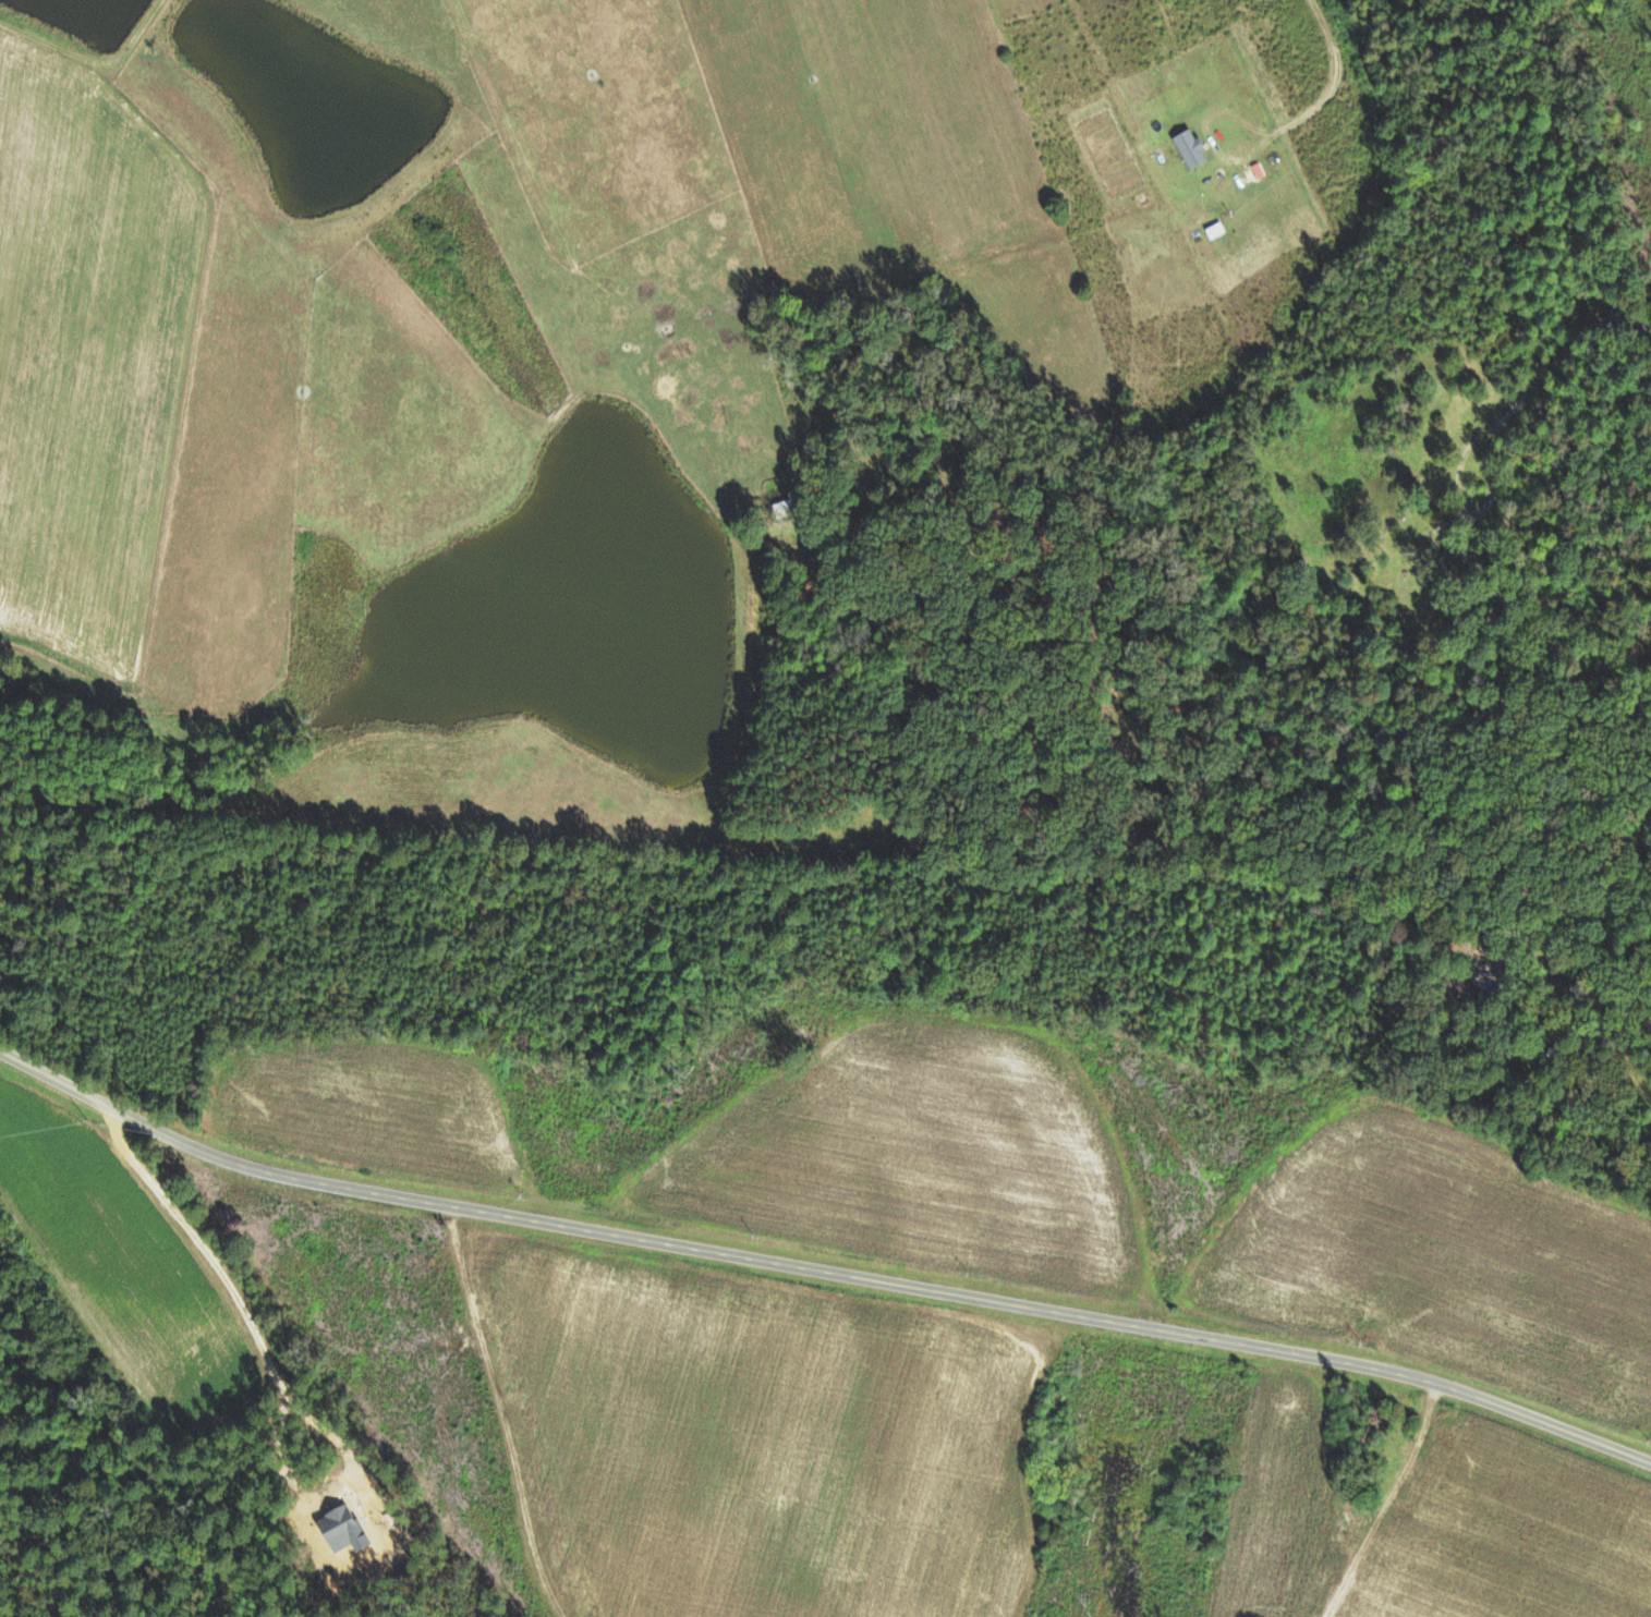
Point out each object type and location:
road: (1324, 101)
building: (1188, 148)
road: (1566, 350)
road: (1467, 511)
building: (1452, 556)
road: (818, 1273)

